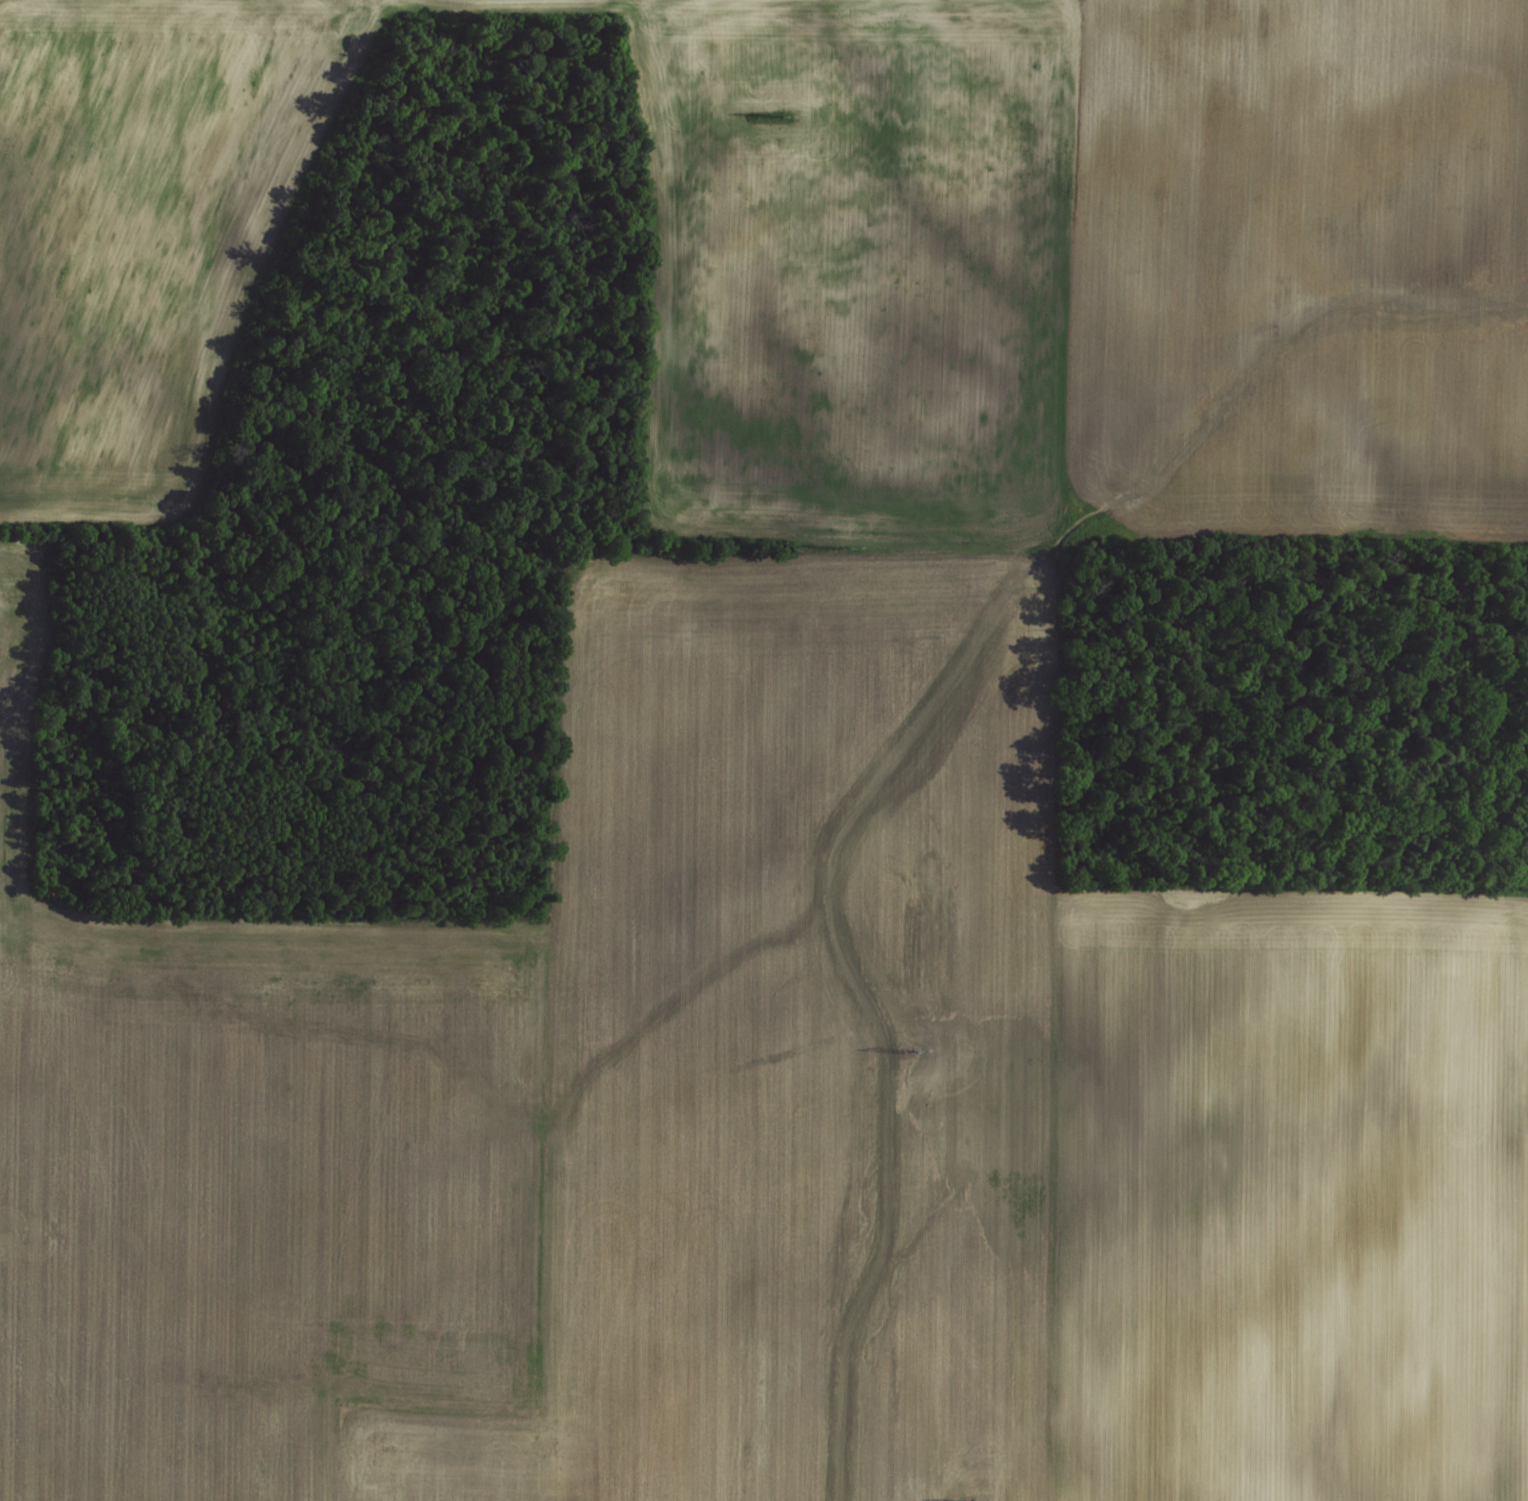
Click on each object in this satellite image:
power tower: (777, 117)
power tower: (837, 547)
power tower: (905, 1052)

